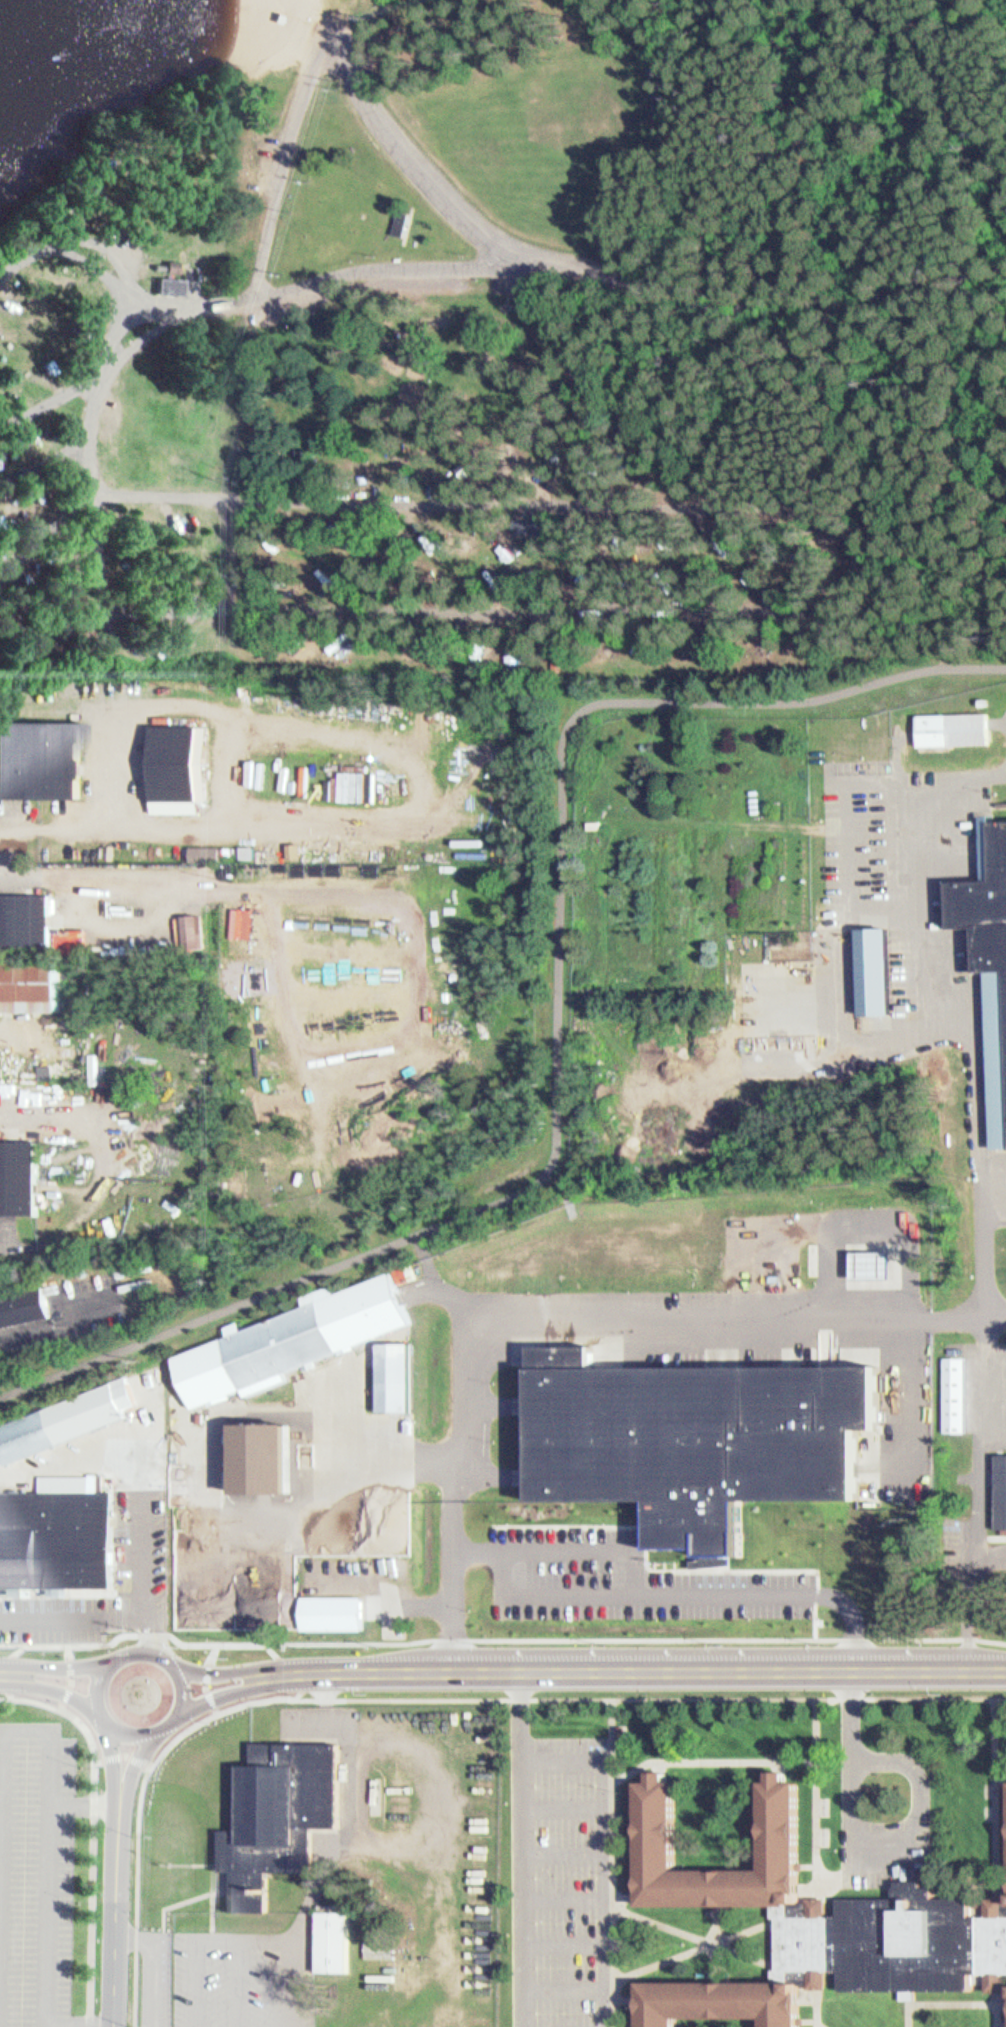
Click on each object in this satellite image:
building: (570, 57)
road: (944, 112)
park: (531, 145)
road: (644, 148)
road: (411, 162)
road: (284, 165)
building: (405, 224)
road: (95, 250)
building: (166, 279)
building: (171, 286)
road: (628, 291)
road: (217, 302)
road: (123, 321)
park: (519, 349)
road: (54, 397)
road: (41, 462)
road: (805, 505)
building: (541, 527)
road: (53, 533)
building: (954, 731)
road: (567, 743)
building: (39, 754)
building: (182, 759)
road: (839, 783)
road: (848, 813)
parking lot: (896, 841)
building: (249, 860)
building: (986, 906)
building: (27, 915)
building: (446, 917)
building: (868, 964)
building: (32, 984)
road: (978, 1028)
building: (275, 1068)
building: (19, 1175)
road: (257, 1299)
building: (23, 1308)
road: (544, 1309)
building: (292, 1343)
building: (397, 1377)
building: (955, 1393)
building: (62, 1415)
building: (699, 1433)
building: (275, 1435)
building: (398, 1474)
building: (1000, 1492)
building: (58, 1530)
road: (140, 1530)
building: (997, 1540)
road: (560, 1546)
building: (761, 1557)
parking lot: (624, 1575)
road: (686, 1589)
parking lot: (57, 1595)
building: (331, 1610)
road: (147, 1627)
road: (146, 1631)
road: (721, 1633)
road: (69, 1638)
road: (296, 1638)
road: (141, 1645)
road: (58, 1660)
road: (227, 1665)
road: (648, 1668)
road: (70, 1672)
road: (201, 1673)
road: (95, 1676)
road: (53, 1684)
road: (224, 1685)
road: (177, 1687)
road: (24, 1692)
road: (573, 1694)
road: (514, 1704)
road: (822, 1707)
road: (32, 1728)
road: (130, 1728)
building: (619, 1736)
road: (122, 1750)
road: (111, 1755)
road: (135, 1756)
road: (711, 1761)
road: (781, 1765)
road: (661, 1767)
road: (1000, 1777)
road: (817, 1797)
road: (562, 1799)
road: (995, 1801)
road: (348, 1803)
road: (88, 1806)
building: (279, 1812)
building: (784, 1824)
road: (561, 1848)
road: (602, 1850)
road: (95, 1851)
road: (868, 1856)
road: (611, 1861)
road: (809, 1866)
road: (1001, 1866)
parking lot: (37, 1874)
parking lot: (558, 1880)
road: (521, 1882)
road: (139, 1885)
road: (809, 1891)
road: (1001, 1891)
road: (561, 1893)
road: (627, 1896)
road: (118, 1913)
road: (246, 1933)
building: (332, 1937)
road: (561, 1937)
road: (694, 1937)
building: (892, 1941)
road: (714, 1943)
road: (695, 1950)
road: (162, 1957)
building: (378, 1968)
parking lot: (161, 1974)
parking lot: (243, 1974)
road: (245, 1980)
road: (293, 1980)
road: (202, 1981)
road: (561, 1982)
road: (906, 1997)
road: (810, 1998)
road: (1000, 1998)
road: (627, 1999)
building: (721, 2002)
road: (818, 2004)
road: (938, 2004)
road: (994, 2016)
road: (810, 2024)
road: (85, 2025)
road: (819, 2025)
road: (1000, 2026)

